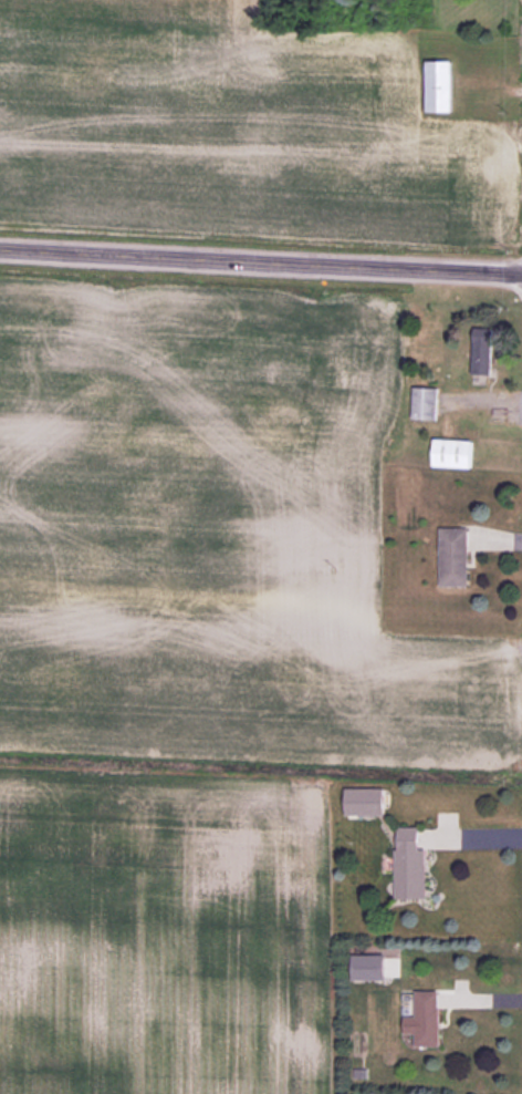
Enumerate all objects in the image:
building: (442, 86)
road: (261, 260)
building: (480, 353)
building: (422, 403)
building: (451, 453)
building: (452, 557)
building: (363, 802)
road: (469, 834)
building: (408, 865)
building: (424, 1019)

